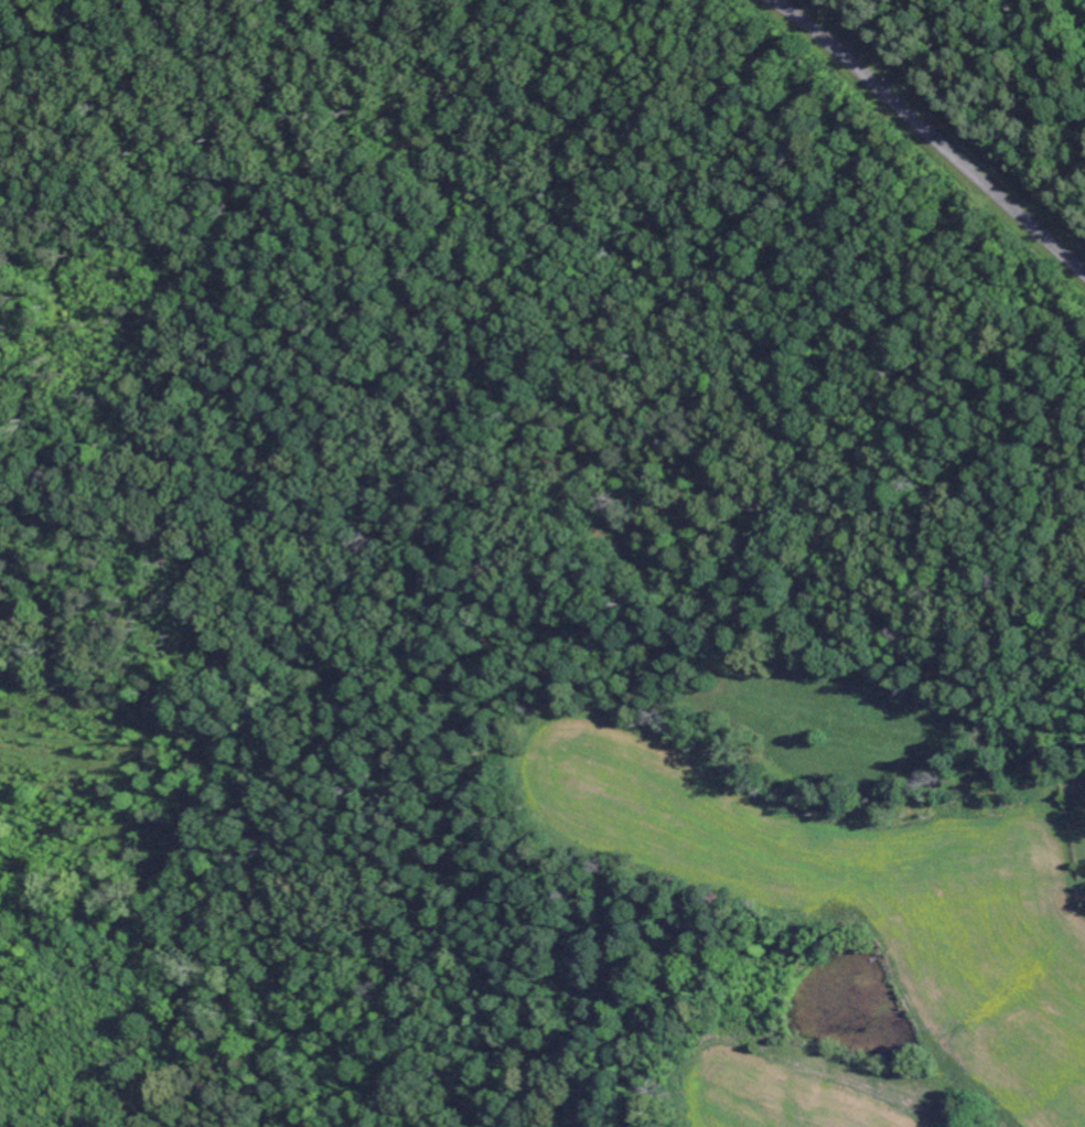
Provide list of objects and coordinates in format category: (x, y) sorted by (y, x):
road: (931, 133)

